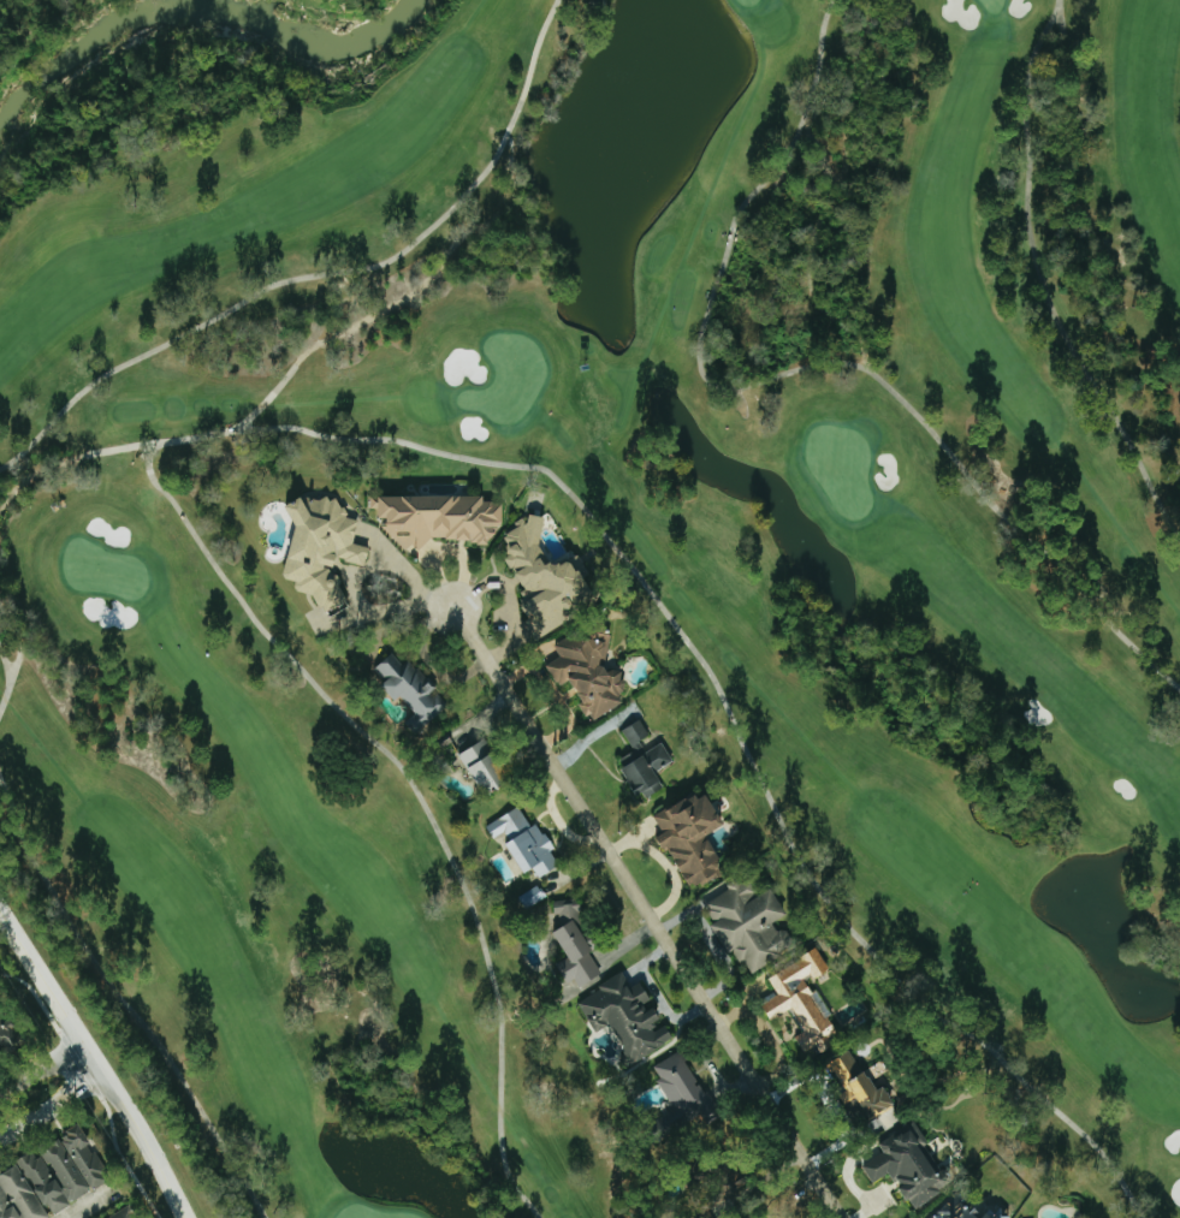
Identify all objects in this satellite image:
park: (746, 2)
park: (992, 4)
building: (595, 5)
road: (1057, 18)
road: (1060, 18)
river: (72, 36)
river: (325, 44)
road: (818, 155)
road: (832, 194)
road: (438, 268)
road: (324, 273)
road: (1042, 281)
road: (345, 303)
road: (802, 367)
park: (509, 378)
road: (267, 398)
road: (247, 423)
road: (385, 439)
road: (123, 447)
road: (146, 447)
park: (840, 468)
road: (37, 473)
building: (435, 515)
building: (313, 535)
park: (610, 546)
park: (105, 570)
building: (542, 575)
road: (360, 580)
road: (12, 625)
road: (11, 665)
road: (14, 667)
building: (587, 667)
road: (8, 678)
building: (409, 689)
building: (443, 738)
building: (641, 757)
building: (484, 767)
building: (689, 833)
building: (522, 840)
road: (656, 911)
building: (747, 921)
building: (573, 940)
building: (799, 999)
road: (123, 1002)
building: (624, 1016)
building: (10, 1033)
road: (97, 1065)
road: (43, 1067)
building: (856, 1087)
building: (680, 1093)
road: (51, 1104)
building: (907, 1164)
building: (52, 1177)
building: (711, 1177)
building: (995, 1202)
road: (89, 1204)
park: (362, 1212)
building: (129, 1213)

